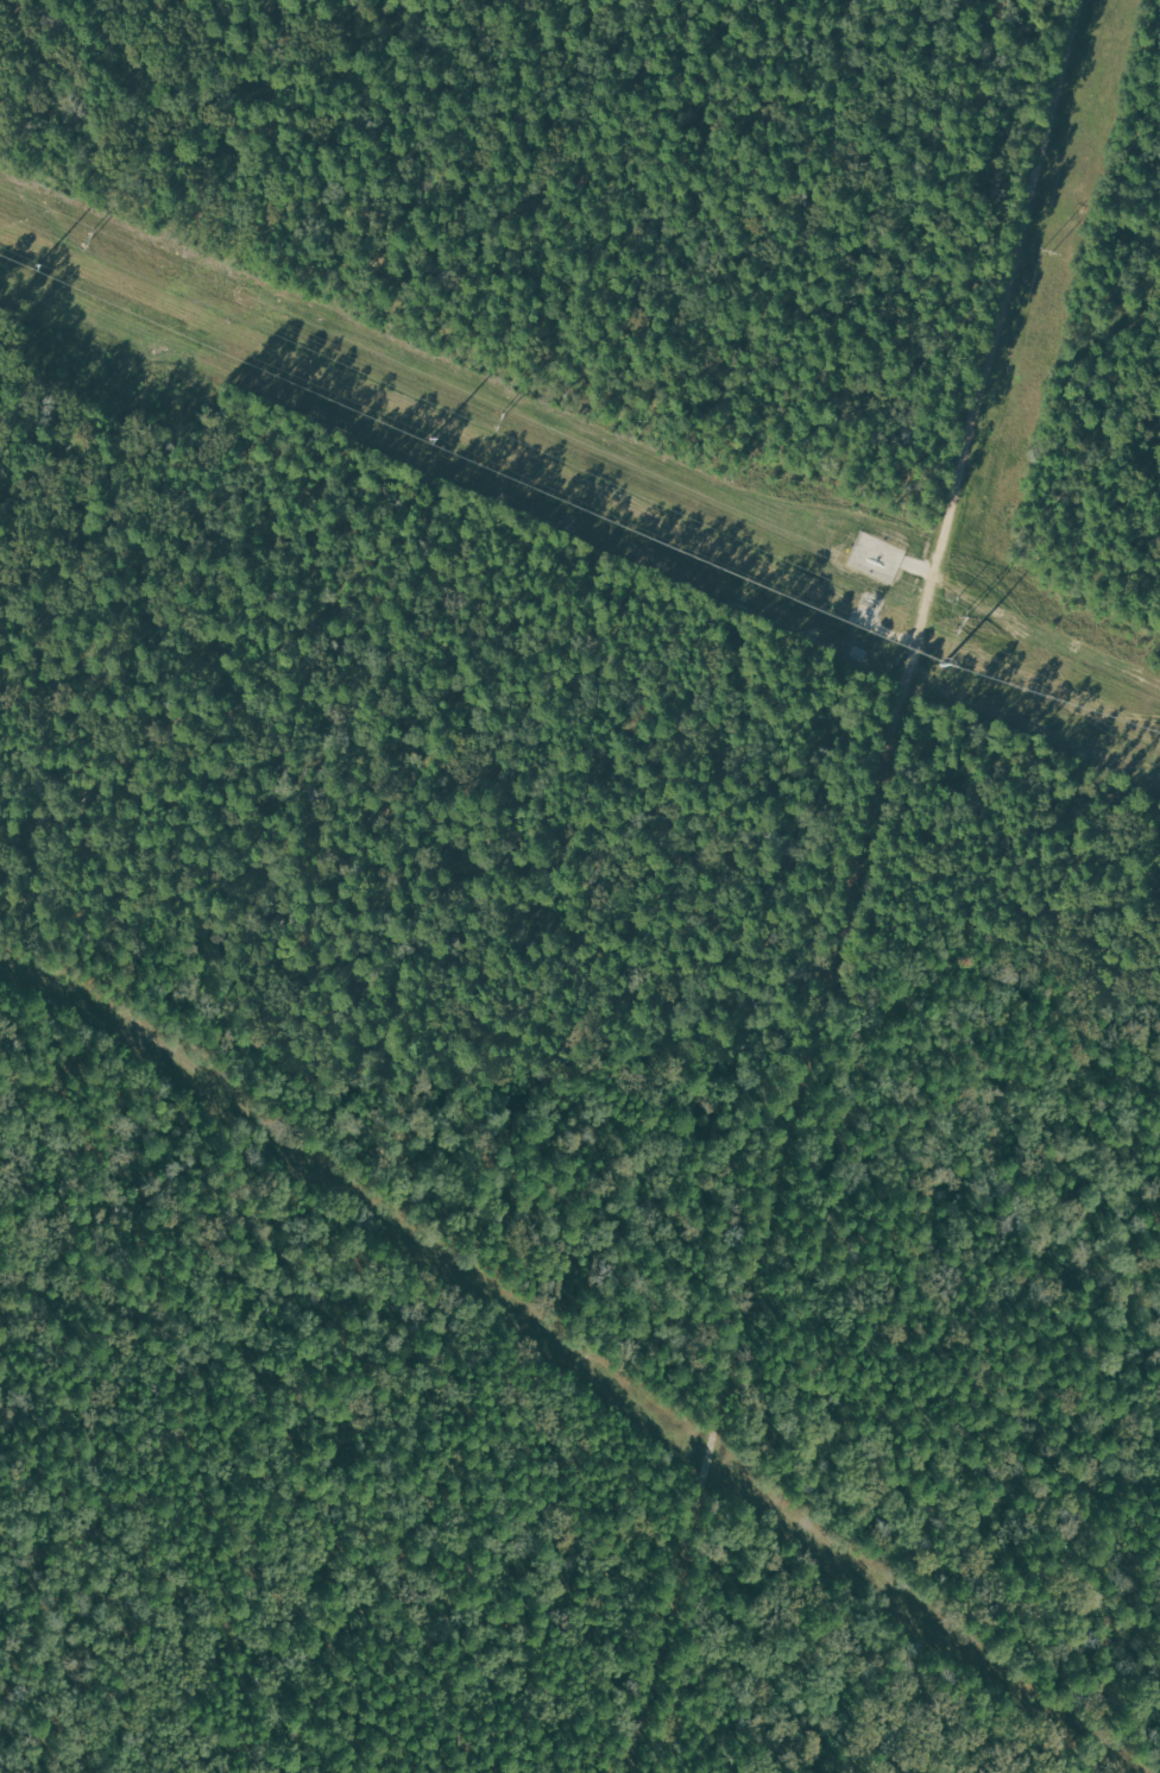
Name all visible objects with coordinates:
power tower: (88, 241)
power tower: (1048, 252)
power tower: (499, 421)
power tower: (957, 620)
road: (882, 888)

